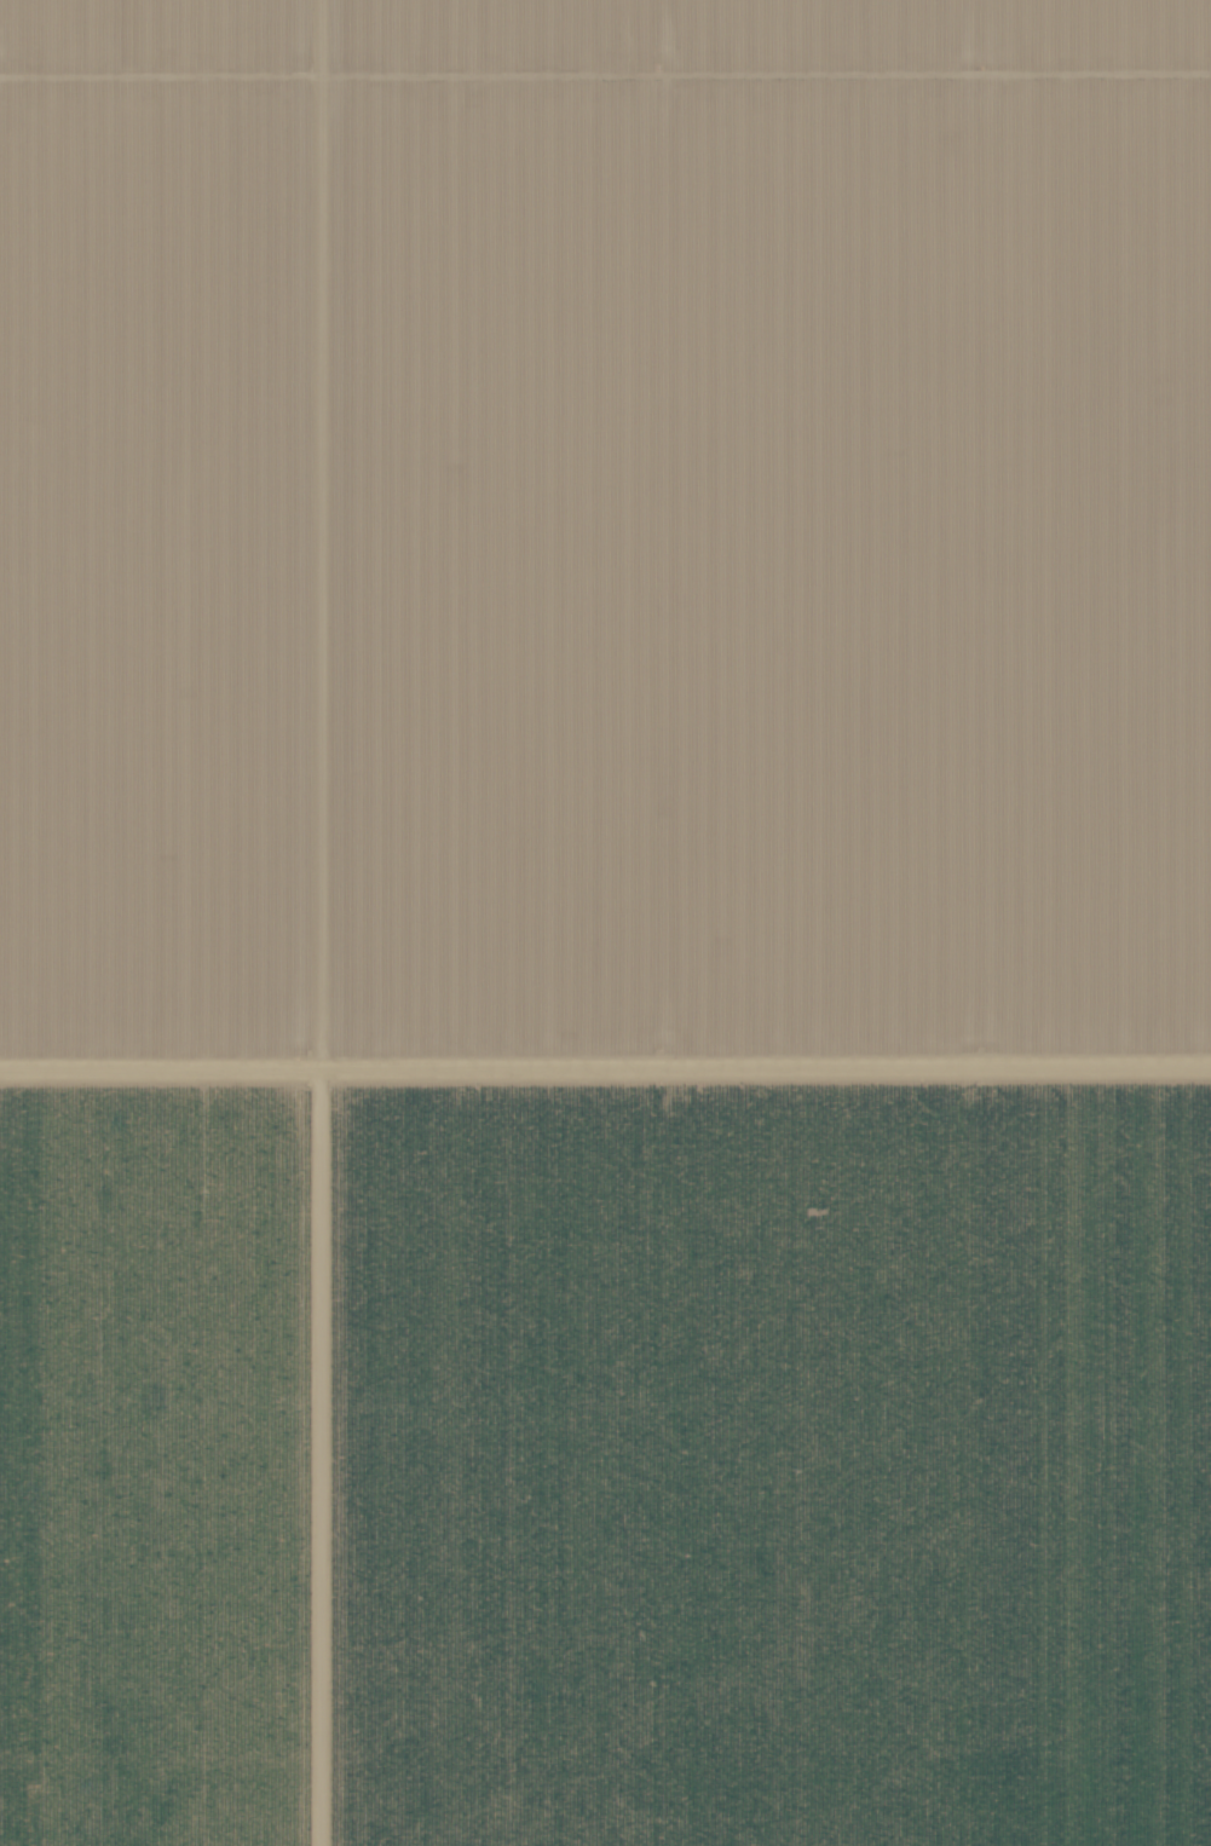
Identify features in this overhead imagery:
crop: (605, 923)

